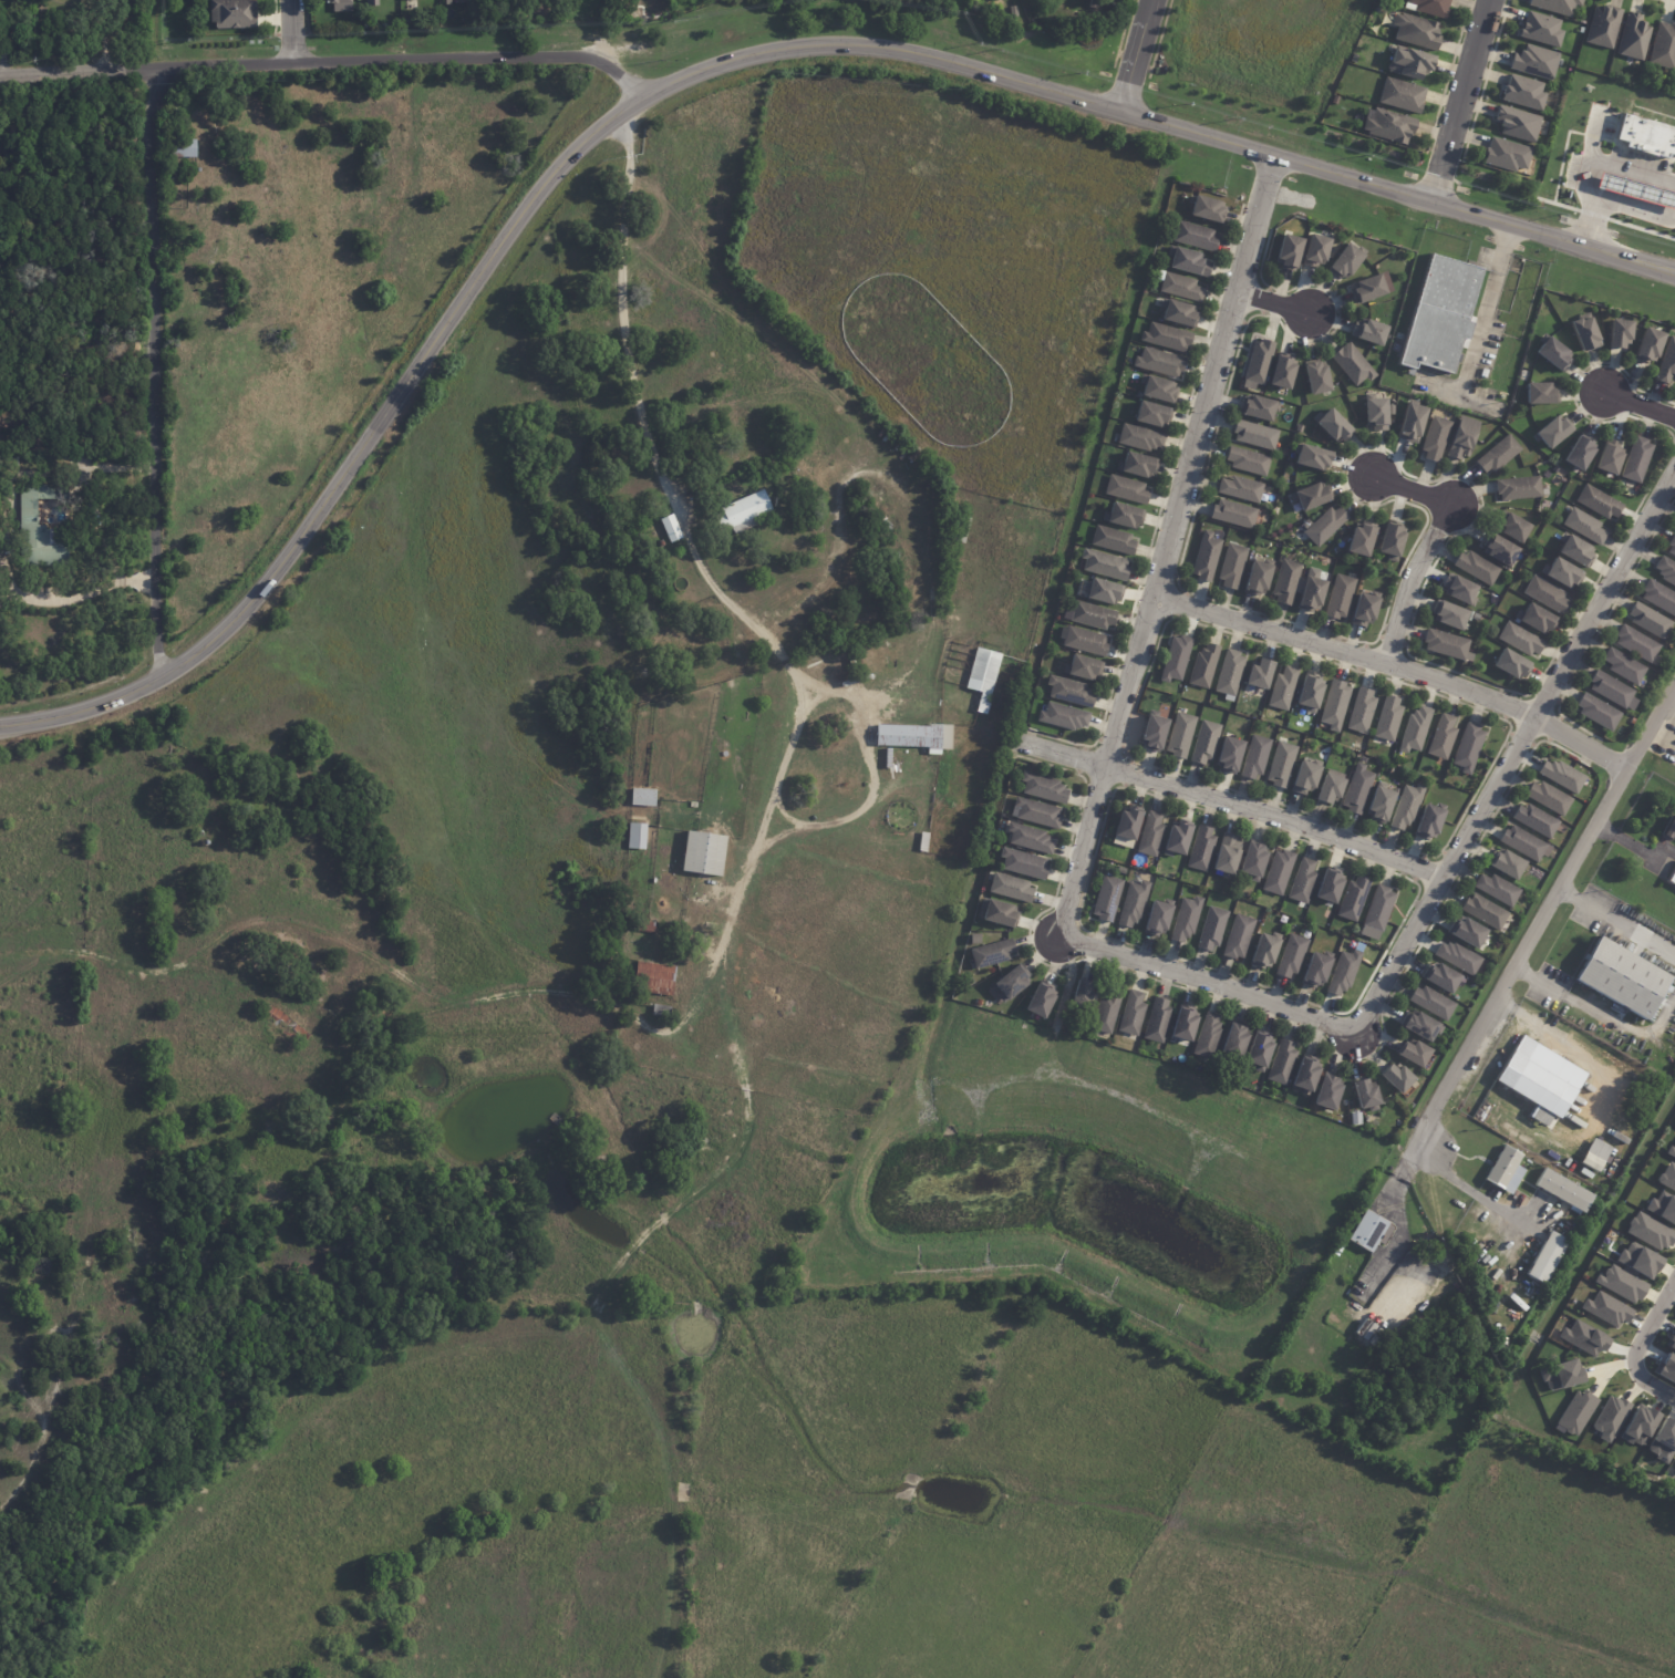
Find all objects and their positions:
building: (996, 0)
building: (978, 1)
building: (373, 2)
building: (341, 6)
building: (1430, 7)
building: (1553, 7)
building: (234, 14)
building: (635, 14)
building: (407, 21)
building: (396, 23)
building: (1602, 27)
building: (1540, 29)
road: (300, 30)
building: (1414, 32)
building: (1632, 38)
road: (787, 48)
building: (1663, 48)
road: (1127, 54)
road: (324, 60)
building: (1534, 62)
building: (1409, 63)
building: (1522, 92)
building: (1400, 96)
road: (1459, 101)
building: (1516, 123)
building: (1388, 126)
building: (1646, 135)
building: (184, 148)
building: (1506, 156)
road: (1631, 169)
road: (1581, 182)
building: (1634, 189)
building: (1209, 208)
road: (1631, 208)
building: (1196, 236)
building: (1285, 251)
building: (1315, 251)
building: (1189, 260)
building: (1343, 260)
building: (1182, 287)
building: (1366, 288)
road: (1274, 303)
road: (1482, 309)
building: (1179, 312)
building: (1437, 313)
building: (1583, 331)
building: (1369, 333)
building: (1616, 333)
building: (1168, 338)
building: (1646, 345)
building: (1551, 352)
building: (1255, 361)
building: (1161, 362)
building: (1666, 363)
building: (1351, 364)
building: (1279, 371)
building: (1481, 373)
road: (155, 375)
building: (1313, 377)
building: (1160, 389)
road: (1452, 391)
building: (1539, 393)
road: (1641, 404)
building: (1257, 408)
building: (1154, 413)
building: (1375, 413)
building: (1410, 423)
building: (1331, 425)
building: (1551, 432)
building: (1253, 436)
building: (1459, 437)
building: (1140, 438)
building: (1434, 438)
building: (1579, 452)
building: (1497, 454)
building: (913, 455)
building: (1312, 457)
building: (1606, 457)
building: (1635, 459)
building: (1245, 462)
building: (1137, 465)
building: (1517, 488)
building: (1127, 489)
building: (1239, 489)
building: (1309, 496)
building: (1596, 503)
building: (744, 510)
building: (1231, 515)
building: (1124, 516)
building: (1303, 524)
building: (1323, 526)
building: (1583, 526)
building: (1511, 527)
building: (35, 528)
building: (672, 529)
building: (963, 529)
building: (1115, 540)
building: (1358, 540)
building: (1388, 540)
building: (1672, 546)
road: (1168, 548)
road: (1430, 549)
building: (1498, 550)
building: (1573, 552)
building: (1203, 558)
building: (1107, 564)
building: (1231, 566)
building: (1475, 568)
building: (1665, 571)
building: (1559, 574)
building: (1254, 578)
building: (1284, 582)
building: (1460, 590)
building: (1105, 591)
building: (1543, 593)
road: (74, 594)
building: (1307, 594)
road: (720, 595)
building: (1337, 598)
building: (1658, 598)
building: (1362, 609)
building: (1094, 615)
building: (1448, 615)
building: (1475, 617)
building: (1534, 620)
building: (1647, 621)
building: (1519, 640)
building: (1087, 641)
building: (1634, 644)
building: (1446, 645)
building: (840, 654)
building: (1177, 657)
building: (1509, 664)
building: (1204, 666)
building: (1622, 666)
building: (1083, 669)
building: (848, 670)
road: (1394, 672)
building: (1262, 673)
building: (1231, 675)
building: (985, 676)
building: (1284, 688)
building: (1071, 691)
building: (1611, 691)
building: (1312, 692)
building: (1336, 705)
road: (81, 711)
building: (1363, 711)
building: (1595, 712)
building: (1064, 717)
building: (1389, 719)
building: (1417, 729)
building: (1156, 733)
building: (1182, 735)
building: (916, 737)
building: (1444, 738)
building: (1207, 742)
building: (1470, 748)
road: (1517, 752)
building: (1232, 755)
building: (1257, 757)
building: (889, 758)
building: (1282, 765)
building: (1309, 776)
building: (1564, 776)
building: (1332, 786)
building: (1045, 788)
building: (1359, 788)
building: (645, 798)
building: (1551, 798)
road: (1230, 802)
building: (1384, 804)
building: (694, 805)
building: (1408, 806)
building: (1038, 812)
building: (1538, 820)
building: (1431, 821)
building: (1130, 824)
building: (1669, 828)
building: (1152, 835)
road: (775, 837)
building: (639, 838)
building: (1180, 838)
building: (1032, 839)
building: (926, 842)
building: (1526, 843)
road: (1633, 847)
building: (1202, 849)
building: (706, 854)
building: (1229, 856)
building: (1255, 861)
building: (1509, 863)
building: (1025, 864)
building: (1121, 871)
building: (1279, 871)
building: (1672, 878)
building: (1304, 881)
building: (1333, 887)
building: (1012, 888)
road: (740, 889)
building: (1499, 889)
building: (1109, 899)
building: (1355, 899)
building: (1134, 904)
road: (1549, 908)
building: (1379, 909)
building: (1486, 911)
building: (1000, 913)
building: (1159, 918)
building: (1187, 919)
road: (1616, 923)
building: (647, 926)
building: (1213, 929)
building: (1469, 932)
building: (1240, 936)
building: (978, 940)
building: (1265, 952)
building: (993, 954)
building: (1293, 956)
building: (1460, 957)
building: (1317, 970)
building: (1345, 973)
building: (1444, 977)
building: (1622, 977)
building: (655, 978)
building: (1013, 983)
road: (1208, 985)
building: (1085, 997)
building: (1042, 1001)
building: (1435, 1003)
building: (662, 1009)
building: (1108, 1012)
building: (1134, 1015)
road: (1598, 1018)
building: (1159, 1022)
building: (1186, 1024)
building: (282, 1025)
building: (1425, 1028)
building: (1209, 1037)
building: (1237, 1042)
road: (1570, 1049)
building: (1261, 1050)
building: (1416, 1054)
building: (1284, 1060)
building: (1309, 1076)
building: (1398, 1078)
building: (1531, 1088)
building: (1330, 1092)
building: (1367, 1096)
building: (1674, 1126)
building: (1669, 1151)
building: (1594, 1154)
building: (1505, 1170)
building: (1667, 1178)
road: (1467, 1189)
building: (1562, 1190)
building: (1662, 1208)
road: (1394, 1216)
building: (1371, 1231)
building: (1648, 1232)
building: (1545, 1257)
building: (1638, 1260)
building: (1621, 1284)
building: (1606, 1309)
building: (1583, 1338)
building: (1671, 1342)
road: (1638, 1345)
building: (1666, 1368)
building: (1560, 1375)
building: (1575, 1412)
building: (1610, 1418)
building: (1638, 1426)
building: (1662, 1441)

